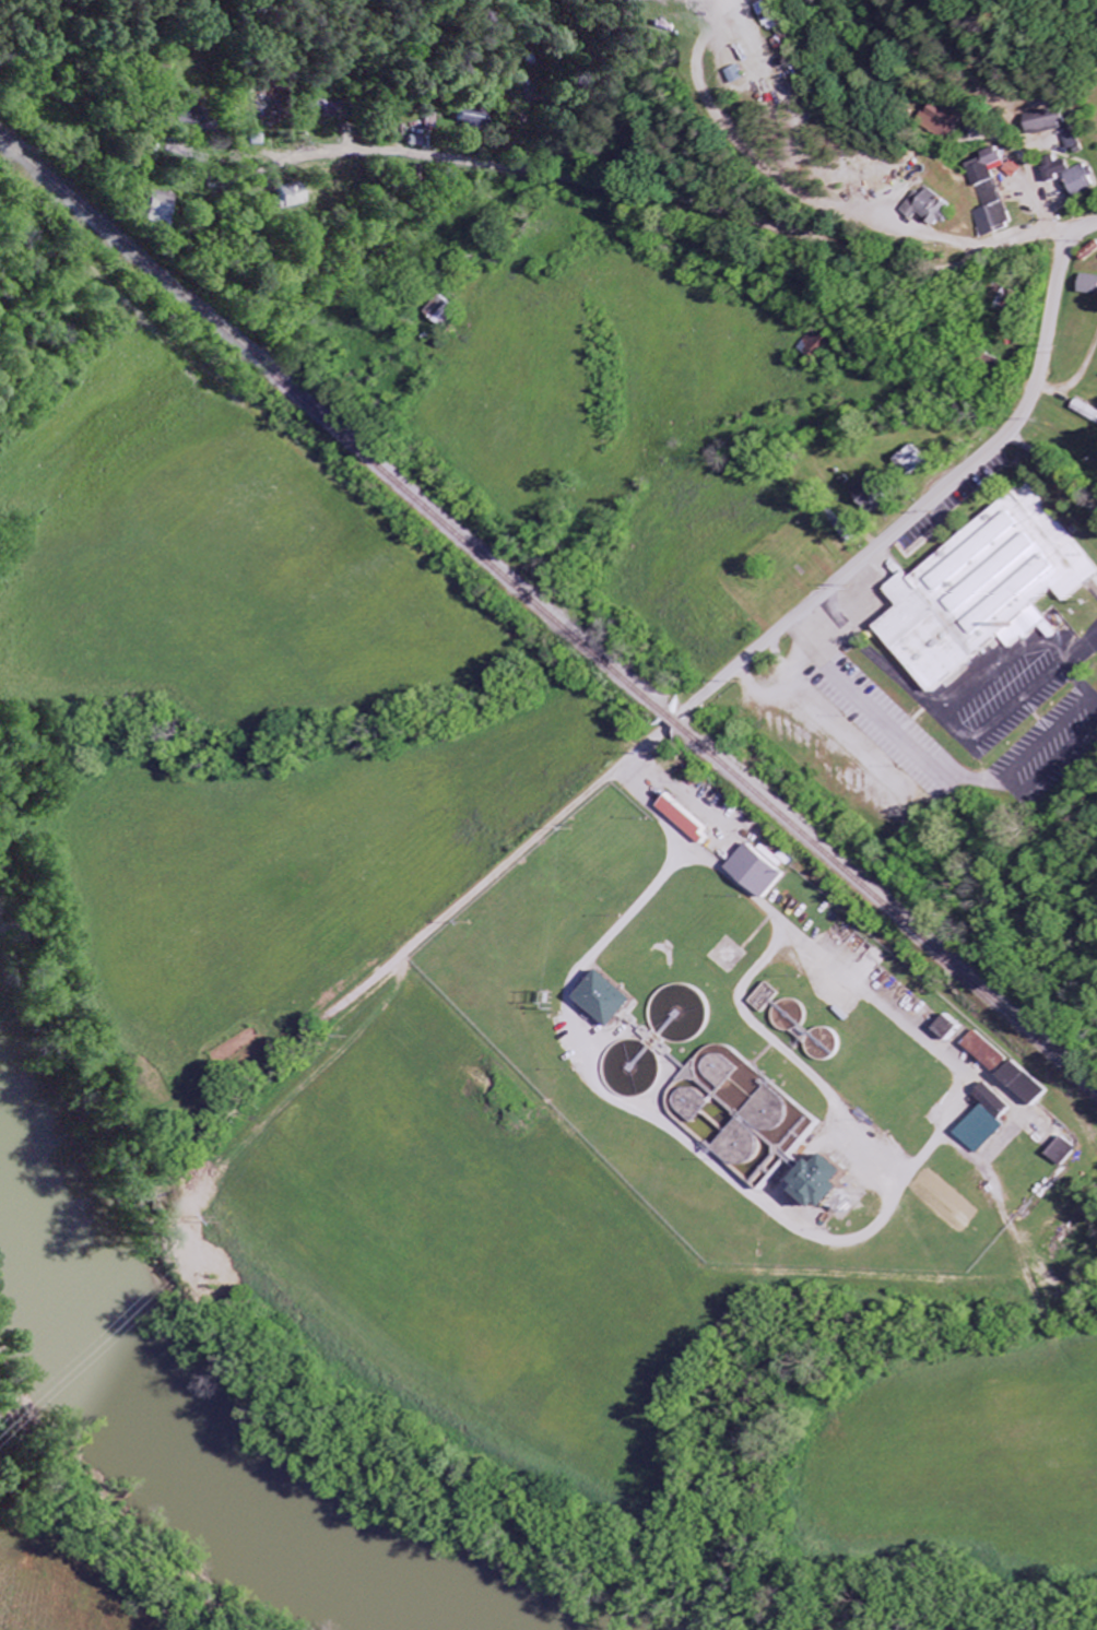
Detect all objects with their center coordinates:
building: (770, 11)
building: (747, 76)
building: (271, 109)
road: (1064, 113)
building: (197, 120)
building: (471, 120)
building: (1052, 122)
building: (1075, 178)
building: (994, 194)
building: (291, 197)
road: (680, 198)
building: (160, 208)
building: (936, 209)
building: (1093, 286)
building: (445, 314)
building: (817, 346)
building: (1088, 410)
railway: (334, 424)
building: (915, 462)
building: (877, 494)
road: (921, 508)
building: (986, 591)
road: (1053, 653)
road: (892, 671)
railway: (674, 718)
building: (689, 822)
building: (762, 872)
railway: (888, 902)
road: (764, 906)
building: (617, 1000)
building: (952, 1029)
wastewater plant: (745, 1041)
building: (989, 1052)
building: (1029, 1085)
building: (1066, 1153)
building: (838, 1183)
river: (188, 1439)

